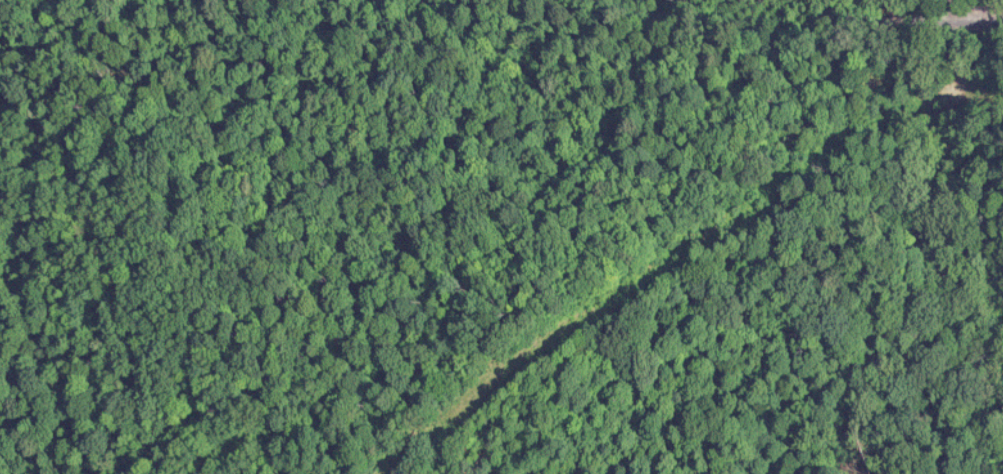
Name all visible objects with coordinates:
road: (956, 7)
road: (956, 7)
road: (488, 76)

